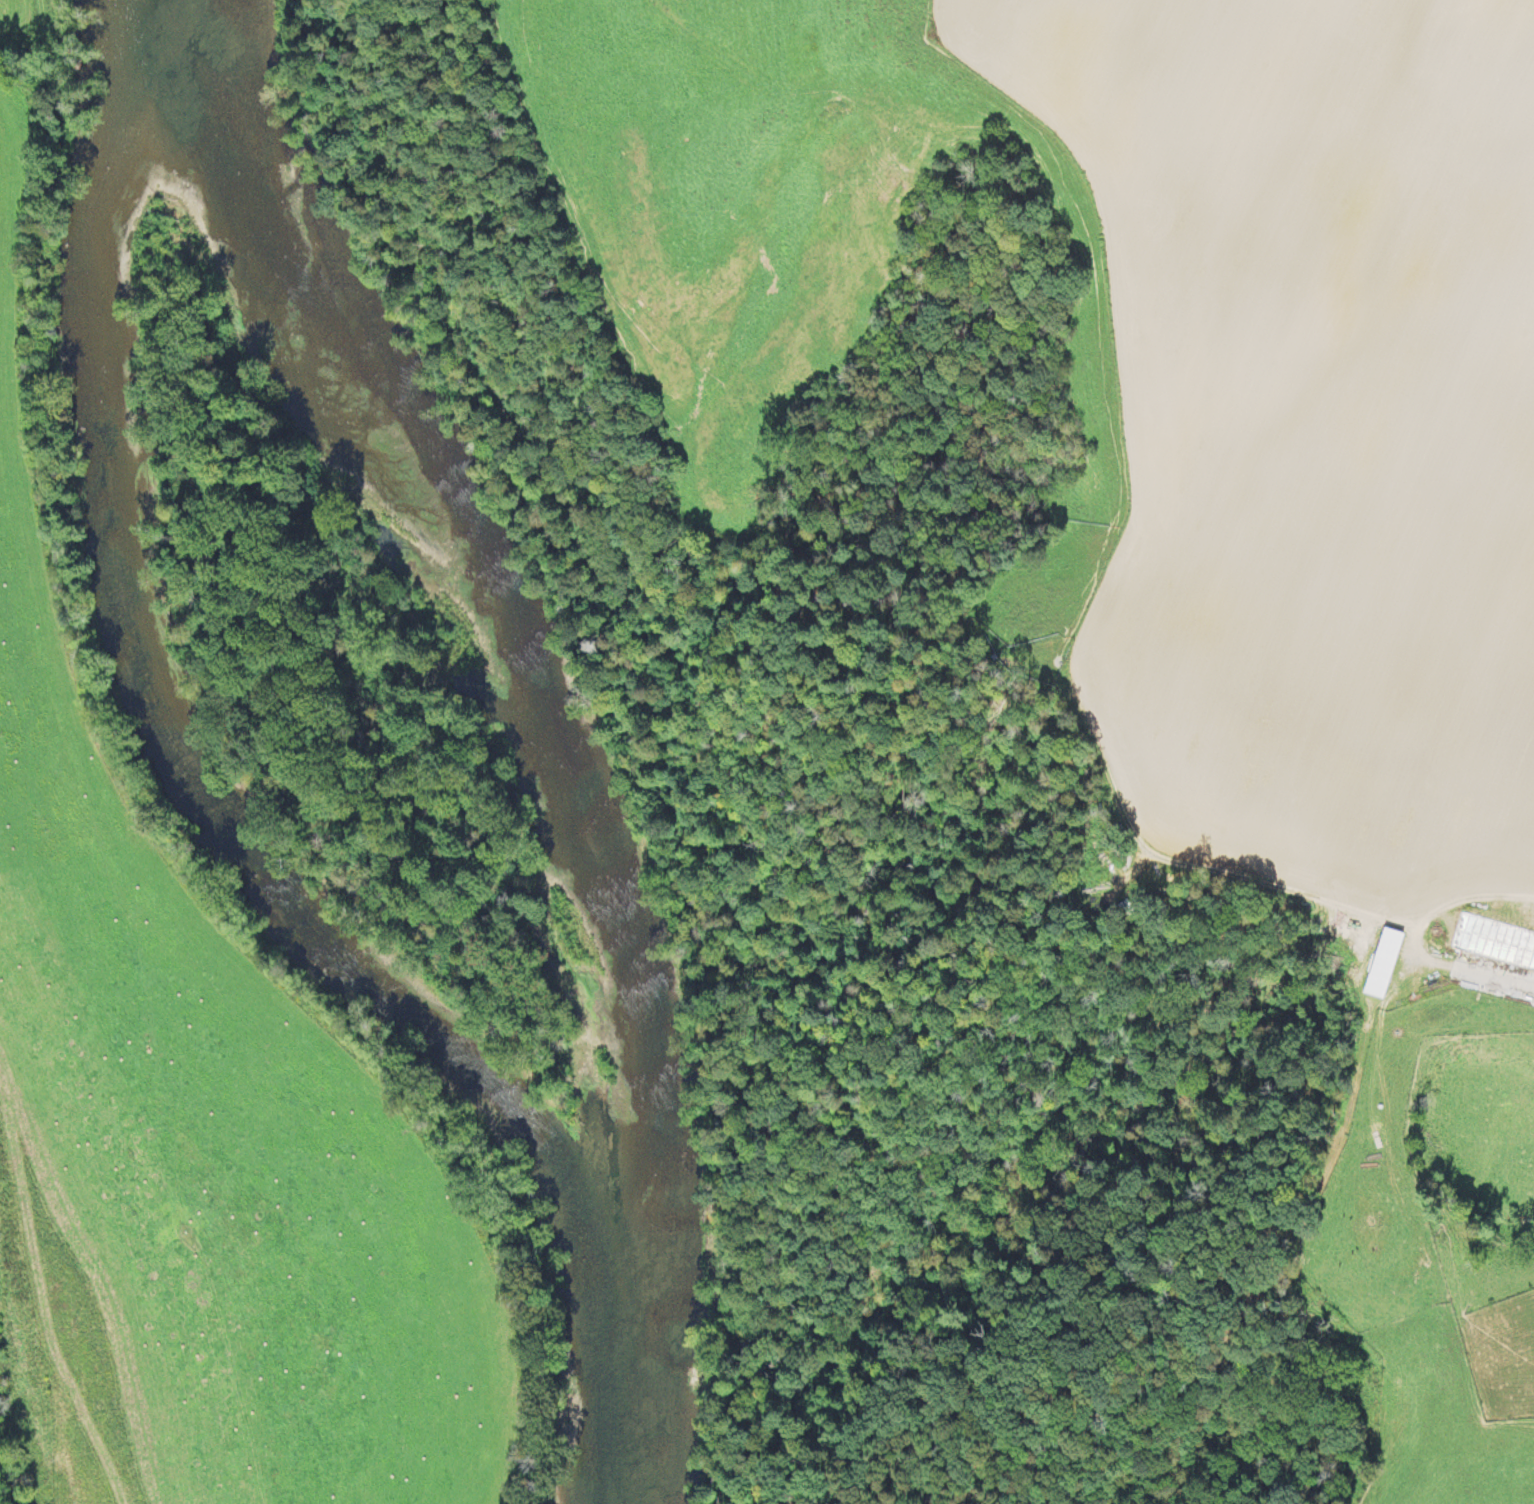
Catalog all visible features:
river: (551, 710)
river: (182, 776)

